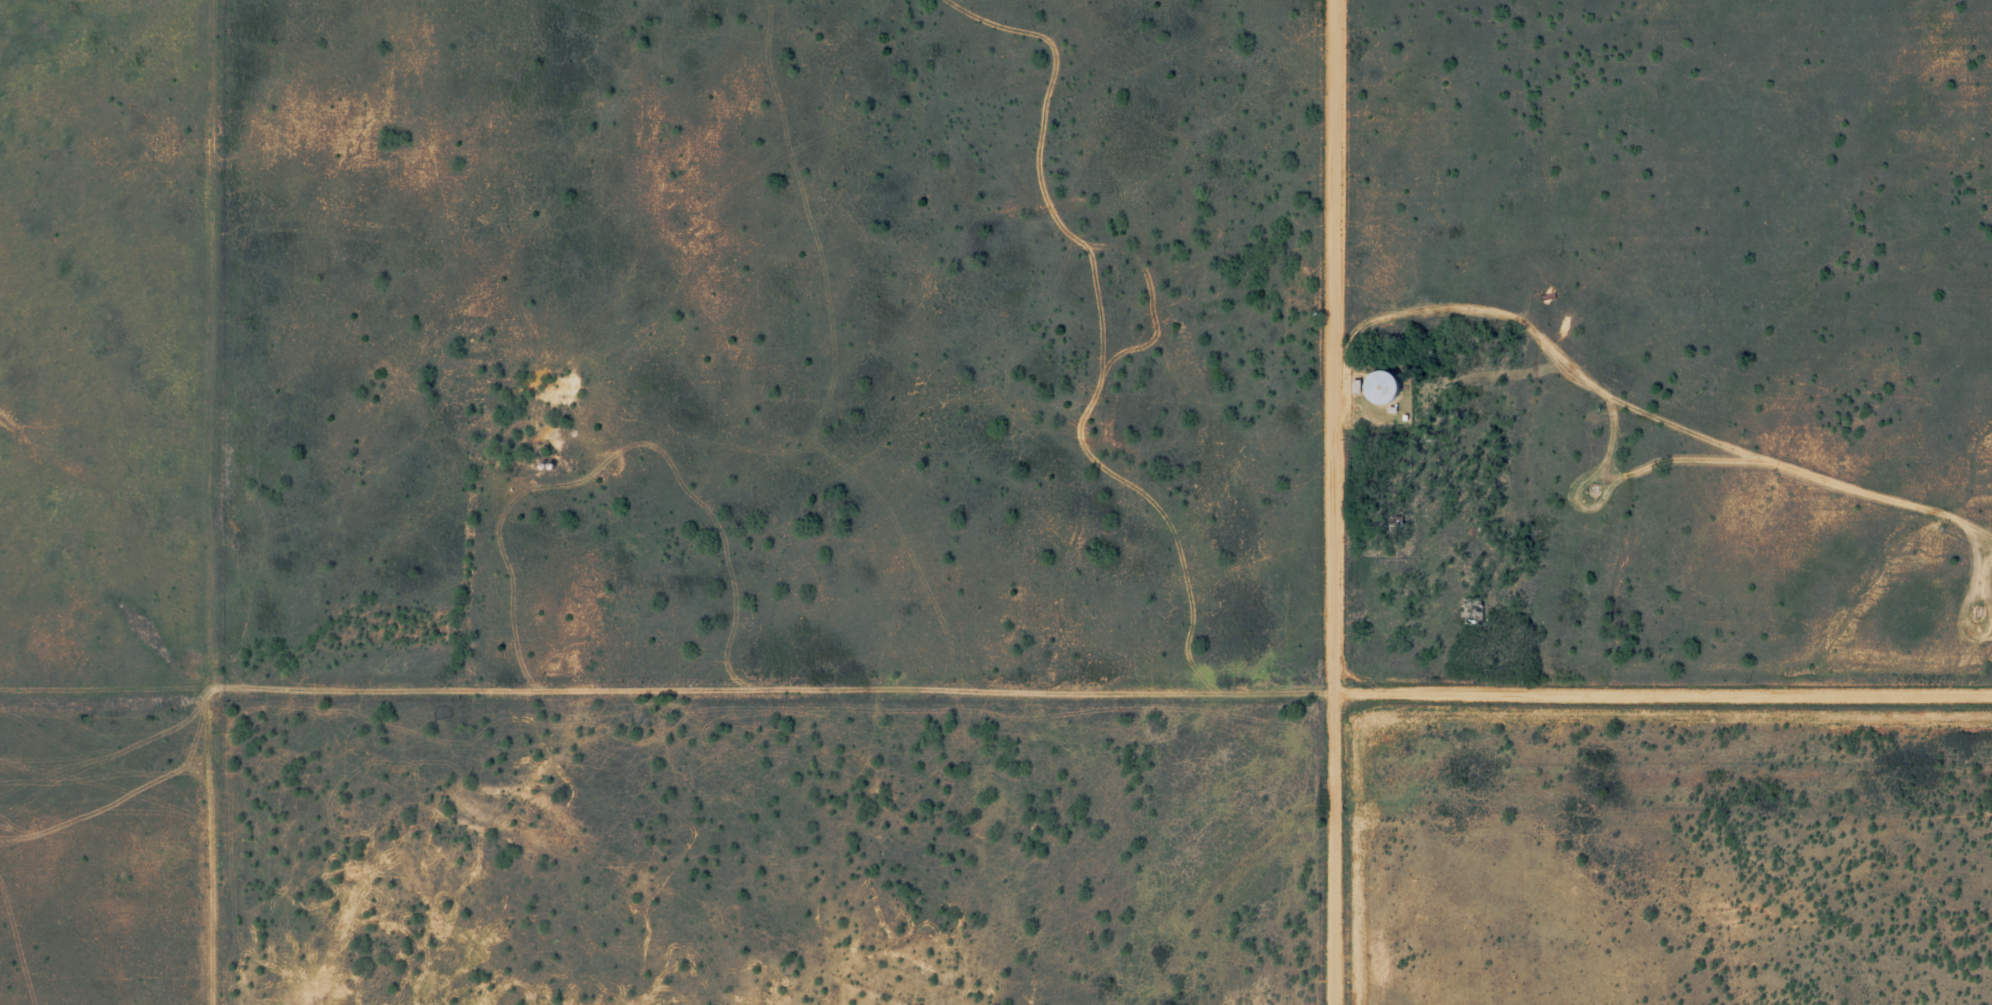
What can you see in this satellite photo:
building: (1379, 385)
road: (1330, 502)
road: (1661, 687)
road: (631, 694)

